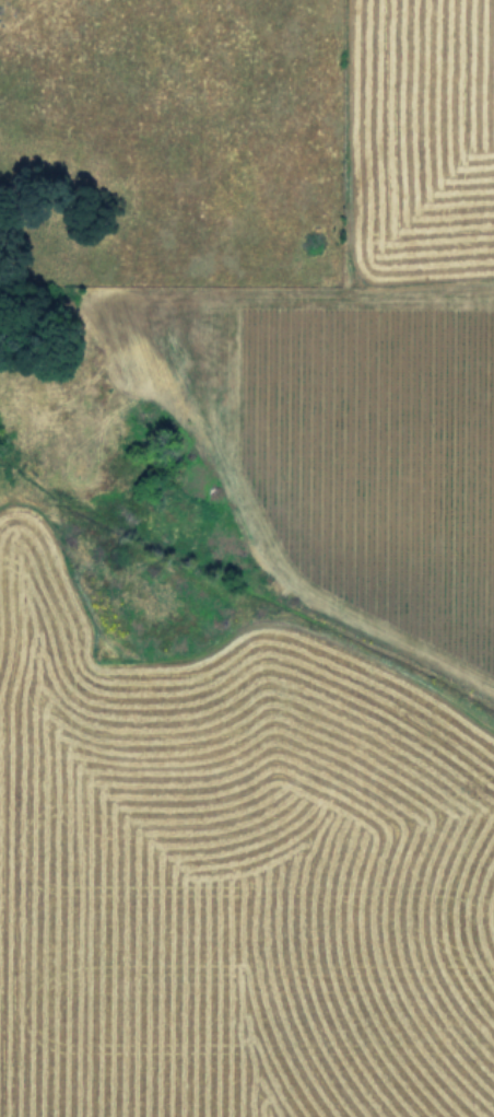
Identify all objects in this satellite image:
crop: (247, 558)

